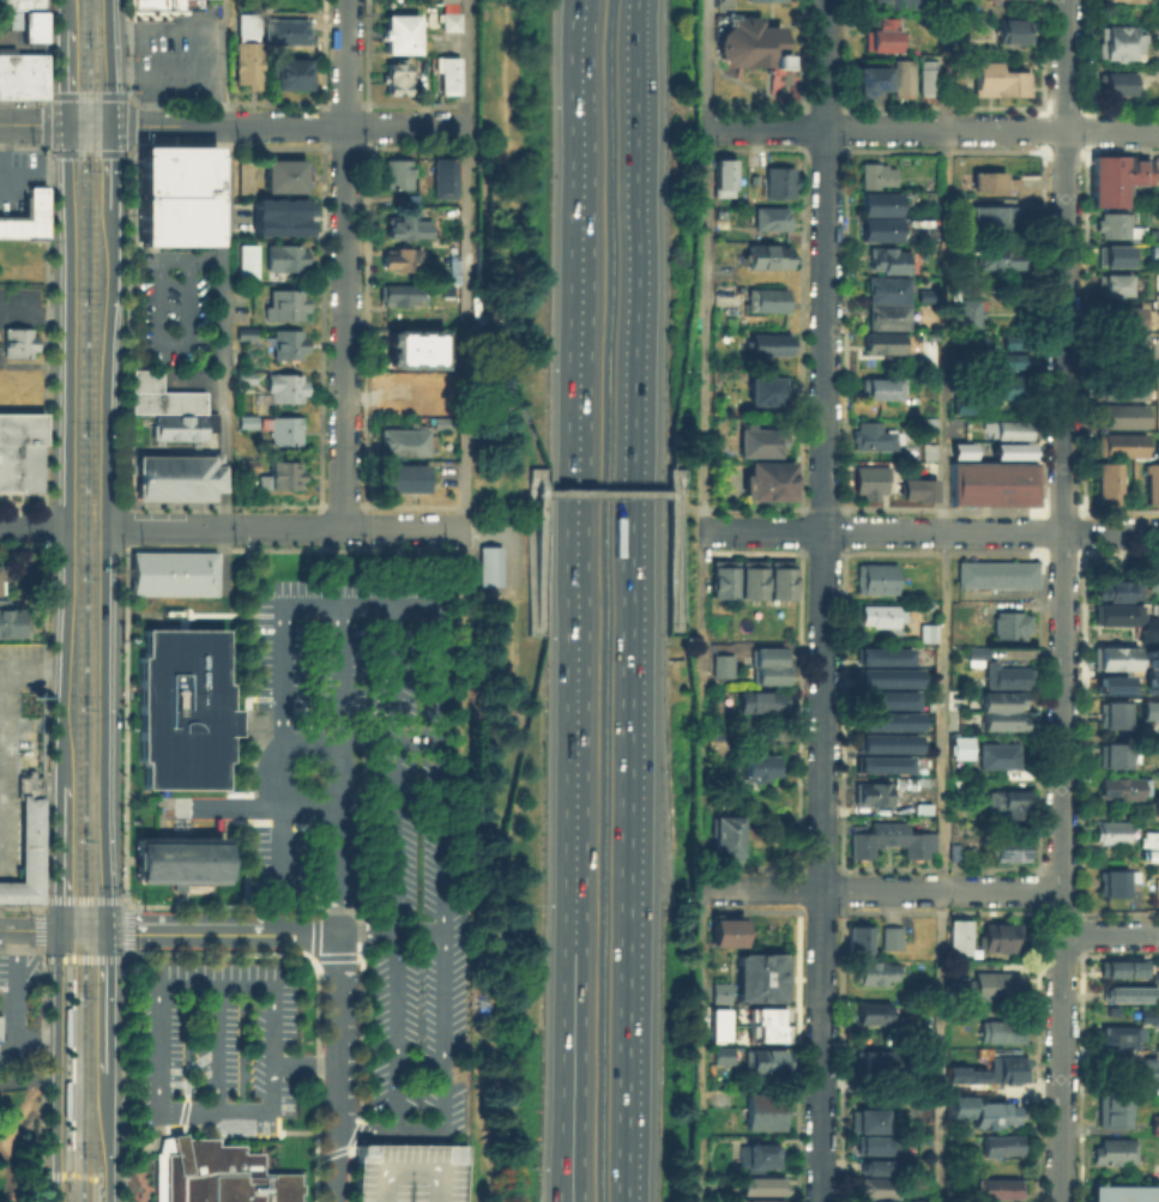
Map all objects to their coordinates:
building: (771, 0)
building: (1128, 0)
building: (893, 1)
building: (164, 5)
road: (67, 12)
building: (24, 16)
building: (243, 20)
building: (449, 20)
building: (284, 28)
building: (1013, 29)
building: (399, 32)
building: (880, 32)
building: (1119, 40)
building: (745, 41)
road: (127, 47)
road: (46, 48)
road: (324, 50)
road: (367, 50)
parking lot: (176, 55)
building: (243, 60)
road: (109, 61)
road: (346, 62)
road: (702, 64)
building: (19, 70)
building: (288, 71)
building: (443, 71)
building: (392, 74)
road: (67, 75)
building: (900, 75)
building: (925, 75)
building: (994, 75)
building: (868, 77)
building: (1113, 80)
road: (23, 98)
road: (224, 102)
road: (345, 102)
road: (417, 102)
road: (324, 123)
road: (367, 123)
traffic signals: (67, 125)
traffic signals: (111, 125)
road: (173, 125)
road: (406, 126)
road: (930, 128)
road: (128, 145)
road: (23, 146)
road: (344, 146)
road: (110, 165)
building: (391, 170)
building: (875, 171)
building: (174, 173)
building: (241, 173)
building: (279, 175)
building: (440, 175)
building: (1113, 175)
building: (720, 177)
building: (994, 179)
building: (775, 180)
building: (877, 199)
building: (992, 211)
building: (23, 213)
building: (284, 215)
building: (768, 216)
building: (403, 223)
building: (1109, 223)
building: (173, 224)
building: (877, 228)
building: (1153, 249)
building: (1111, 253)
road: (629, 254)
building: (767, 254)
building: (288, 255)
building: (398, 255)
building: (997, 255)
building: (885, 258)
building: (246, 259)
road: (465, 264)
building: (1111, 283)
building: (394, 291)
road: (224, 294)
building: (924, 295)
building: (883, 296)
building: (763, 297)
building: (283, 300)
parking lot: (173, 307)
building: (966, 312)
building: (1119, 315)
road: (704, 319)
road: (44, 325)
road: (345, 326)
building: (242, 330)
building: (1014, 337)
building: (14, 338)
building: (880, 338)
building: (285, 340)
building: (766, 343)
building: (412, 348)
building: (1117, 348)
building: (1015, 358)
building: (240, 373)
road: (366, 375)
building: (399, 382)
building: (1008, 382)
building: (282, 383)
building: (880, 386)
building: (1119, 387)
building: (765, 388)
building: (437, 399)
building: (962, 401)
building: (165, 405)
building: (1119, 415)
building: (243, 417)
building: (436, 419)
building: (928, 424)
building: (279, 427)
building: (1013, 427)
building: (873, 435)
building: (403, 437)
building: (757, 440)
road: (944, 445)
building: (1119, 445)
building: (19, 448)
building: (961, 449)
building: (1010, 449)
building: (1157, 449)
road: (70, 454)
building: (245, 463)
building: (278, 472)
building: (402, 475)
building: (171, 477)
road: (541, 477)
road: (671, 478)
building: (766, 478)
building: (865, 478)
building: (990, 481)
building: (1107, 482)
building: (1152, 482)
building: (917, 489)
road: (605, 494)
road: (22, 502)
road: (315, 506)
road: (343, 506)
road: (801, 506)
road: (822, 506)
road: (844, 507)
road: (751, 508)
road: (941, 508)
road: (1039, 508)
road: (1062, 508)
road: (1085, 509)
road: (1122, 509)
road: (44, 524)
road: (34, 526)
road: (127, 526)
road: (224, 527)
road: (404, 527)
road: (702, 528)
road: (801, 530)
road: (845, 530)
road: (1038, 530)
road: (930, 531)
road: (1085, 531)
road: (22, 545)
road: (750, 551)
road: (844, 551)
road: (894, 551)
road: (991, 551)
road: (799, 552)
road: (821, 552)
road: (1038, 552)
road: (1062, 552)
road: (1085, 552)
road: (1122, 552)
building: (489, 564)
road: (104, 567)
road: (455, 567)
road: (247, 569)
building: (171, 572)
building: (994, 572)
building: (1152, 574)
building: (723, 578)
building: (874, 578)
building: (750, 579)
building: (779, 579)
building: (1113, 586)
road: (584, 593)
railway: (80, 600)
railway: (92, 600)
road: (822, 600)
road: (1061, 600)
road: (292, 604)
road: (531, 606)
building: (1155, 608)
building: (876, 610)
road: (194, 611)
building: (1117, 612)
building: (960, 618)
building: (6, 620)
building: (1008, 623)
building: (1148, 628)
road: (678, 630)
building: (930, 630)
building: (972, 647)
road: (126, 652)
building: (880, 652)
building: (1112, 654)
building: (1151, 657)
building: (767, 663)
building: (719, 664)
road: (32, 668)
building: (1002, 670)
building: (883, 672)
road: (339, 677)
building: (1110, 683)
building: (1151, 684)
building: (883, 694)
building: (757, 700)
building: (998, 705)
building: (181, 706)
building: (1149, 709)
building: (1111, 712)
building: (887, 717)
road: (44, 721)
building: (885, 738)
building: (1155, 738)
road: (388, 739)
building: (960, 747)
road: (336, 750)
building: (1110, 753)
building: (749, 754)
building: (995, 754)
building: (879, 760)
building: (1157, 762)
building: (754, 767)
building: (903, 779)
building: (1158, 784)
building: (1118, 785)
building: (868, 787)
building: (1007, 801)
building: (1155, 803)
road: (236, 808)
building: (1111, 830)
building: (726, 834)
building: (889, 836)
building: (1148, 839)
building: (23, 841)
building: (1004, 846)
building: (952, 848)
road: (626, 852)
road: (64, 857)
building: (177, 859)
road: (283, 865)
road: (343, 869)
road: (394, 870)
road: (442, 871)
road: (699, 875)
parking lot: (333, 877)
building: (1112, 880)
road: (879, 890)
road: (84, 899)
road: (24, 906)
road: (40, 928)
road: (128, 928)
road: (219, 928)
road: (83, 929)
traffic signals: (107, 929)
road: (30, 930)
traffic signals: (61, 930)
road: (386, 930)
building: (725, 931)
building: (997, 934)
road: (1109, 934)
building: (889, 936)
building: (956, 936)
building: (857, 937)
road: (24, 949)
road: (313, 955)
road: (84, 958)
building: (1122, 966)
building: (873, 970)
building: (1153, 974)
building: (759, 977)
road: (318, 981)
road: (215, 983)
building: (983, 983)
building: (719, 991)
building: (1128, 991)
road: (105, 999)
road: (14, 1009)
building: (873, 1009)
building: (1148, 1014)
building: (717, 1023)
building: (766, 1023)
building: (997, 1028)
building: (1117, 1032)
building: (1158, 1034)
road: (216, 1045)
road: (941, 1046)
building: (970, 1051)
road: (56, 1052)
building: (720, 1053)
building: (868, 1056)
building: (761, 1058)
road: (306, 1064)
road: (65, 1065)
building: (1004, 1067)
road: (340, 1069)
building: (1148, 1070)
building: (965, 1074)
building: (956, 1105)
road: (213, 1109)
building: (1111, 1109)
building: (992, 1111)
building: (762, 1113)
building: (865, 1116)
building: (1154, 1121)
road: (108, 1123)
road: (391, 1136)
building: (997, 1142)
building: (873, 1143)
park: (22, 1144)
railway: (61, 1144)
building: (1112, 1149)
building: (756, 1152)
building: (881, 1160)
building: (879, 1166)
building: (405, 1171)
parking lot: (405, 1171)
road: (70, 1172)
building: (216, 1174)
road: (5, 1176)
building: (762, 1182)
road: (99, 1183)
building: (870, 1183)
building: (997, 1185)
road: (110, 1188)
road: (56, 1189)
building: (1123, 1192)
road: (580, 1194)
road: (584, 1194)
road: (622, 1198)
building: (759, 1200)
building: (867, 1200)
building: (918, 1200)

